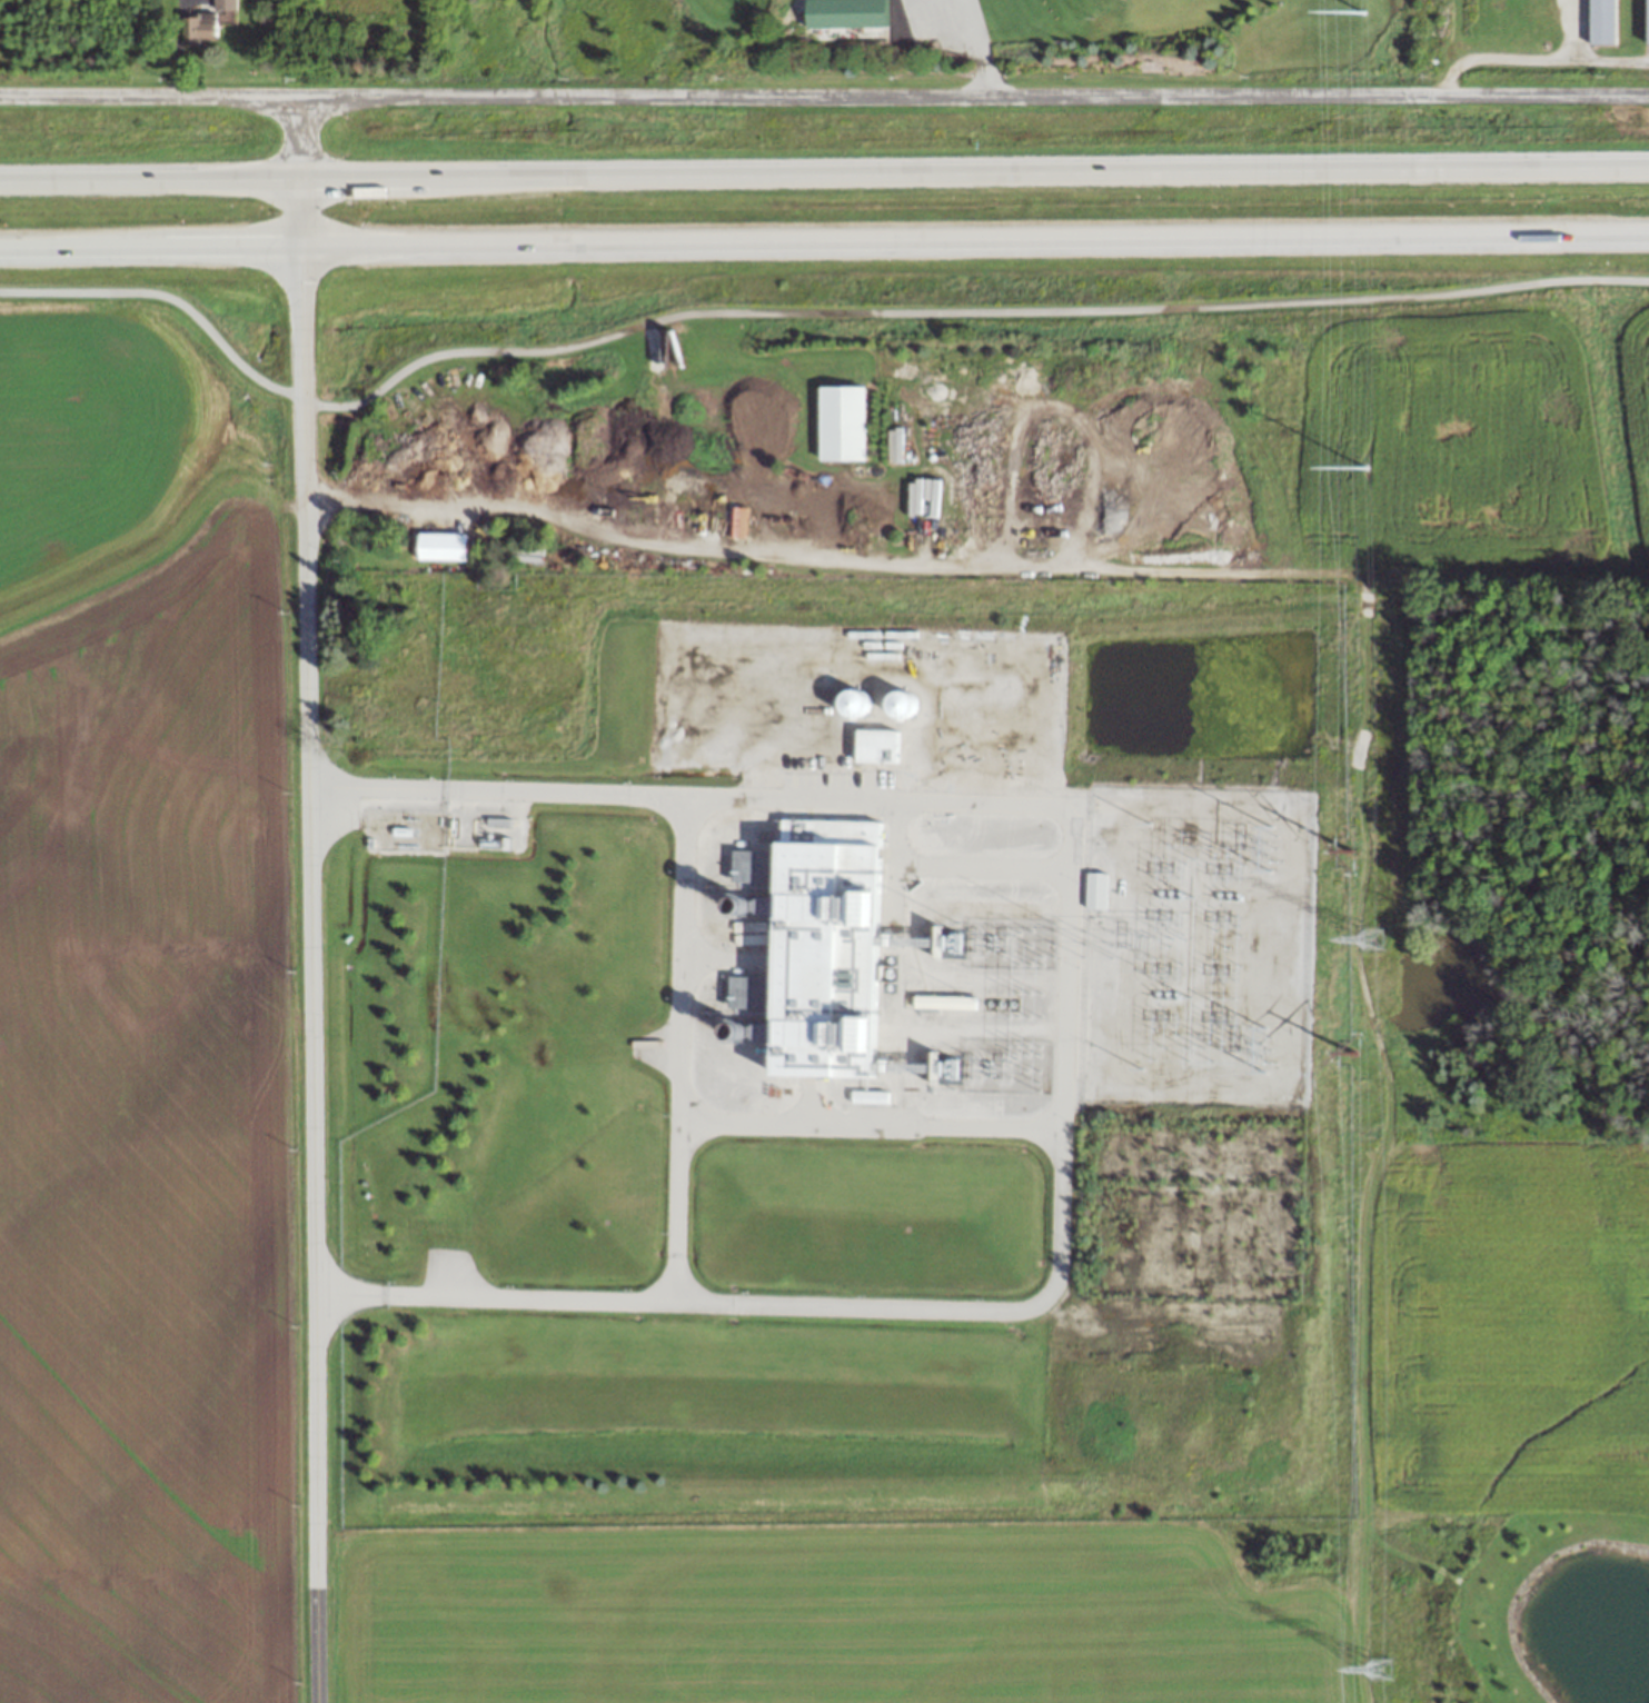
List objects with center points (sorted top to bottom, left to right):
building: (223, 4)
power tower: (1361, 11)
building: (197, 28)
park: (921, 42)
road: (980, 47)
road: (824, 96)
road: (824, 177)
road: (824, 241)
road: (796, 317)
building: (840, 421)
power tower: (1363, 465)
building: (440, 545)
building: (847, 703)
building: (896, 703)
building: (874, 745)
power substation: (450, 827)
power tower: (1347, 849)
building: (1095, 889)
road: (311, 898)
chimney: (755, 904)
power tower: (1370, 935)
building: (819, 943)
power substation: (1195, 945)
building: (737, 990)
chimney: (752, 1032)
power tower: (1347, 1052)
power plant: (867, 1062)
building: (868, 1096)
power tower: (1381, 1666)

